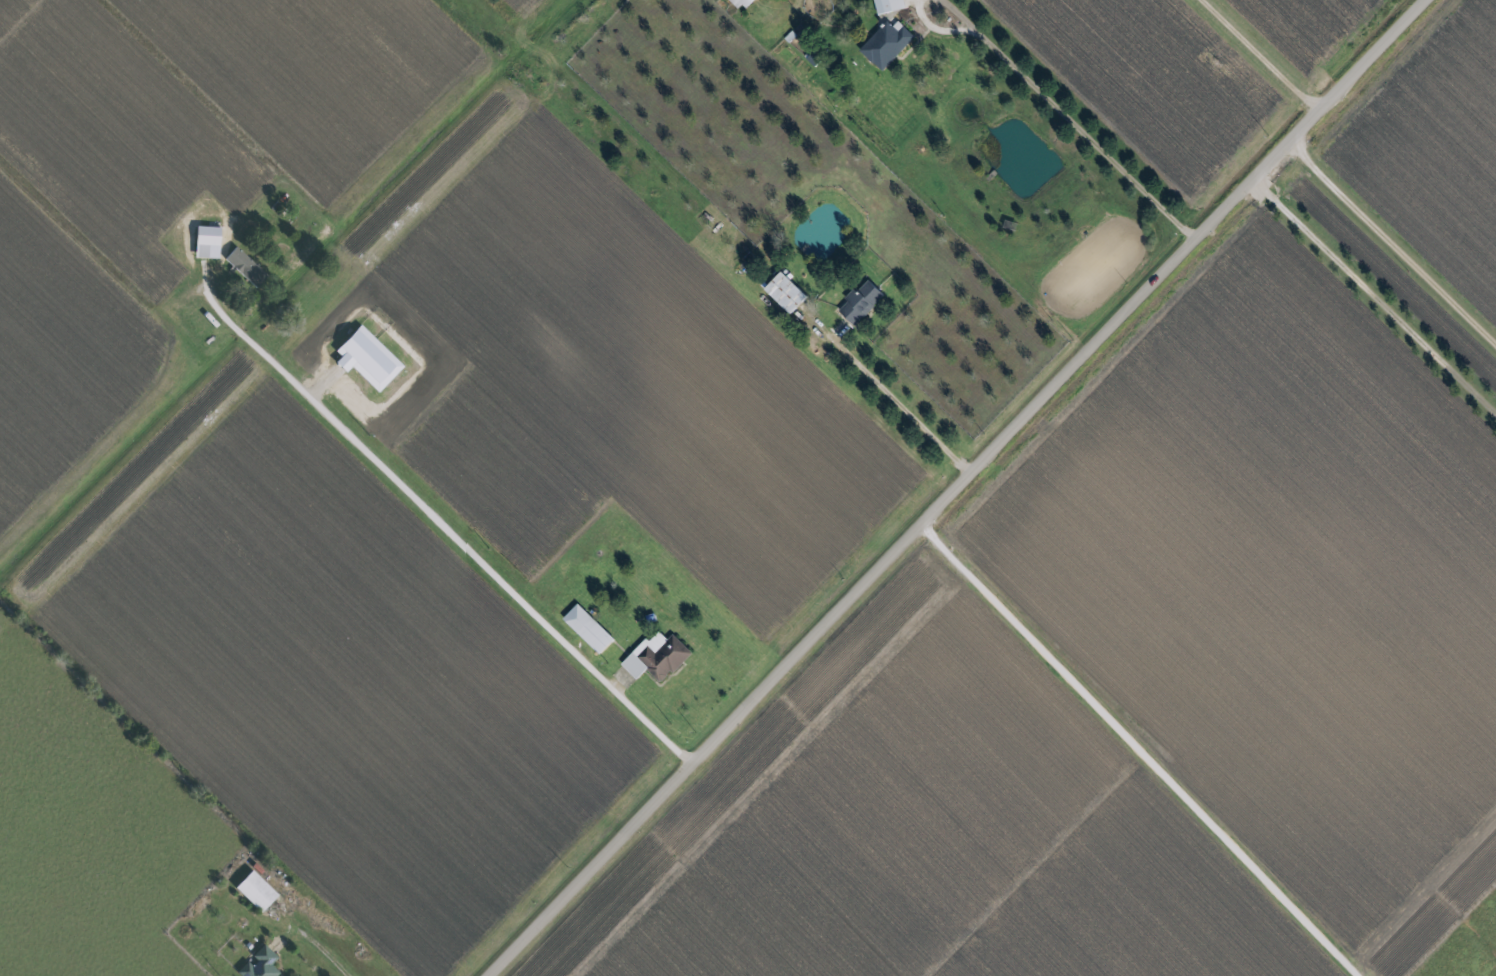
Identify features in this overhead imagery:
building: (744, 3)
building: (890, 5)
building: (887, 44)
road: (1259, 53)
road: (1070, 120)
road: (1393, 240)
building: (208, 241)
building: (246, 266)
road: (1377, 289)
building: (787, 293)
building: (861, 301)
road: (899, 404)
road: (957, 487)
road: (448, 535)
building: (589, 628)
building: (657, 656)
road: (1134, 750)
building: (256, 890)
road: (323, 955)
building: (261, 964)

